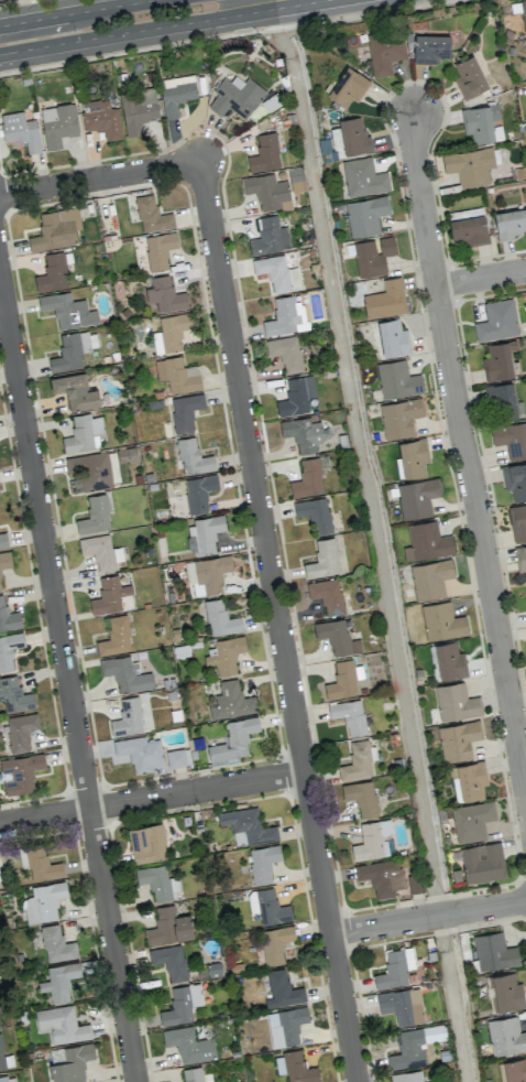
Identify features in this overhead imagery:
road: (78, 12)
building: (523, 12)
road: (165, 26)
building: (430, 48)
building: (385, 52)
building: (468, 77)
building: (348, 87)
building: (176, 94)
building: (237, 96)
building: (138, 110)
building: (101, 118)
building: (480, 122)
building: (57, 125)
building: (20, 130)
building: (353, 136)
building: (264, 153)
building: (470, 165)
building: (363, 177)
building: (296, 180)
building: (267, 192)
building: (465, 213)
building: (152, 215)
building: (365, 215)
building: (511, 223)
building: (56, 229)
building: (469, 230)
building: (270, 237)
building: (158, 249)
building: (372, 256)
building: (52, 273)
building: (276, 273)
road: (481, 279)
building: (163, 296)
building: (385, 300)
building: (67, 311)
building: (286, 316)
building: (496, 321)
building: (173, 331)
building: (393, 338)
building: (157, 343)
building: (73, 350)
building: (285, 351)
building: (498, 360)
building: (177, 375)
building: (397, 380)
building: (75, 391)
building: (296, 396)
building: (503, 402)
building: (185, 412)
building: (398, 418)
building: (85, 433)
building: (304, 433)
building: (511, 439)
building: (125, 454)
road: (464, 454)
building: (193, 457)
building: (412, 458)
building: (92, 470)
building: (308, 478)
building: (515, 480)
building: (198, 491)
building: (416, 497)
building: (315, 513)
building: (95, 516)
road: (261, 521)
building: (517, 522)
building: (205, 532)
building: (3, 540)
building: (427, 541)
building: (100, 552)
building: (322, 559)
building: (520, 559)
building: (4, 560)
building: (207, 574)
building: (430, 578)
building: (0, 584)
building: (327, 595)
building: (111, 596)
building: (8, 617)
building: (220, 618)
building: (441, 621)
building: (116, 637)
building: (337, 637)
building: (9, 649)
building: (226, 654)
building: (450, 660)
building: (125, 674)
road: (68, 679)
building: (343, 680)
building: (14, 695)
building: (231, 701)
building: (456, 702)
building: (349, 716)
building: (128, 717)
building: (20, 731)
building: (458, 739)
building: (232, 742)
building: (140, 753)
building: (175, 758)
building: (358, 761)
building: (20, 773)
building: (471, 780)
building: (361, 797)
road: (151, 798)
building: (471, 821)
building: (248, 824)
building: (373, 841)
building: (146, 843)
building: (482, 862)
building: (39, 863)
building: (262, 863)
building: (382, 877)
building: (157, 881)
building: (43, 901)
building: (267, 907)
road: (428, 917)
building: (168, 927)
building: (56, 944)
building: (274, 944)
building: (494, 952)
building: (169, 961)
building: (395, 967)
building: (59, 981)
building: (282, 989)
building: (505, 992)
building: (182, 1004)
building: (402, 1005)
building: (61, 1025)
building: (285, 1026)
building: (505, 1036)
building: (189, 1045)
building: (415, 1046)
building: (1, 1057)
building: (69, 1062)
building: (298, 1068)
building: (515, 1070)
building: (195, 1074)
building: (406, 1076)
building: (3, 1079)
building: (430, 1081)

